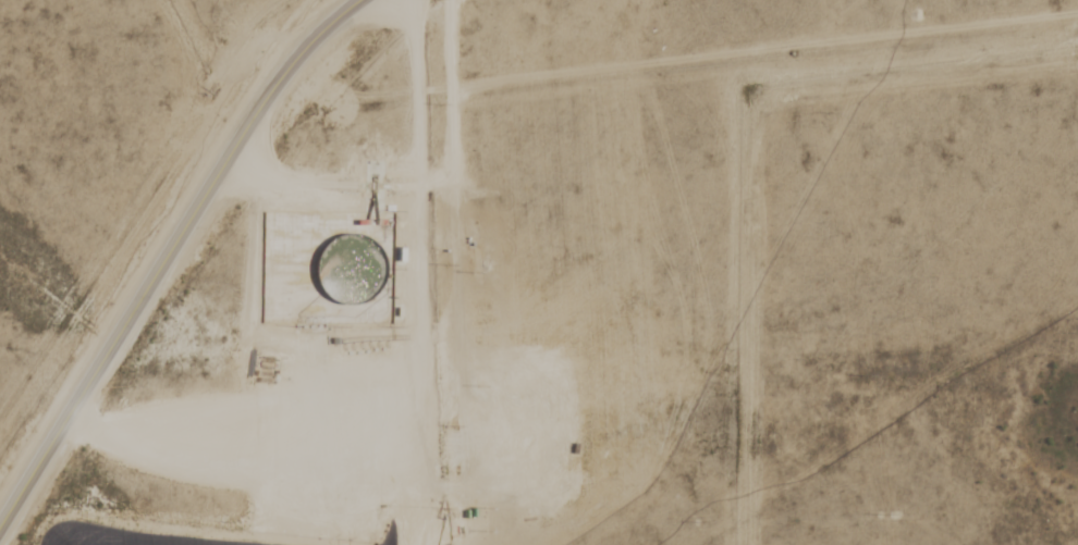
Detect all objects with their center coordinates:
road: (339, 162)
road: (173, 252)
road: (294, 443)

